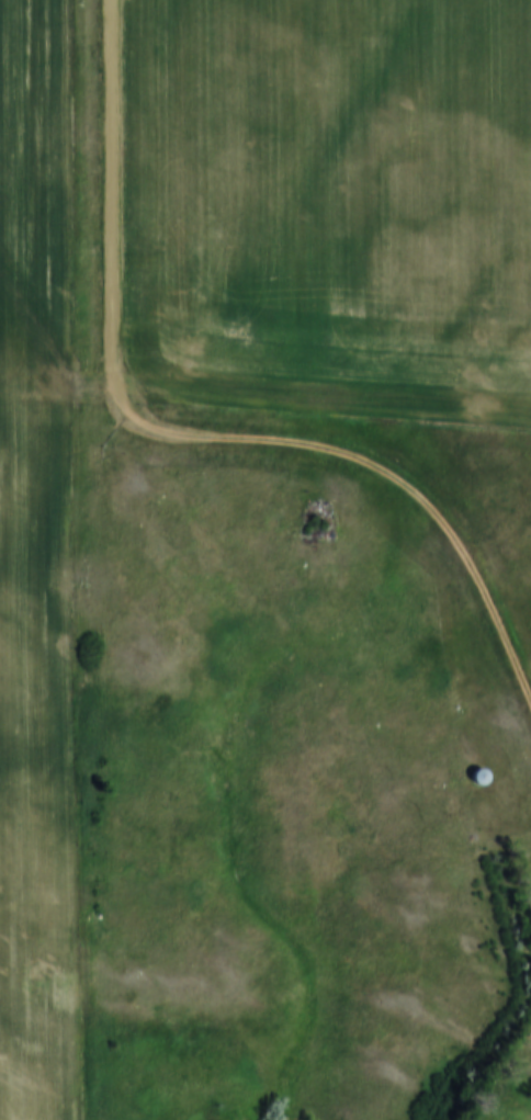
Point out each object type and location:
road: (187, 433)
building: (477, 776)

